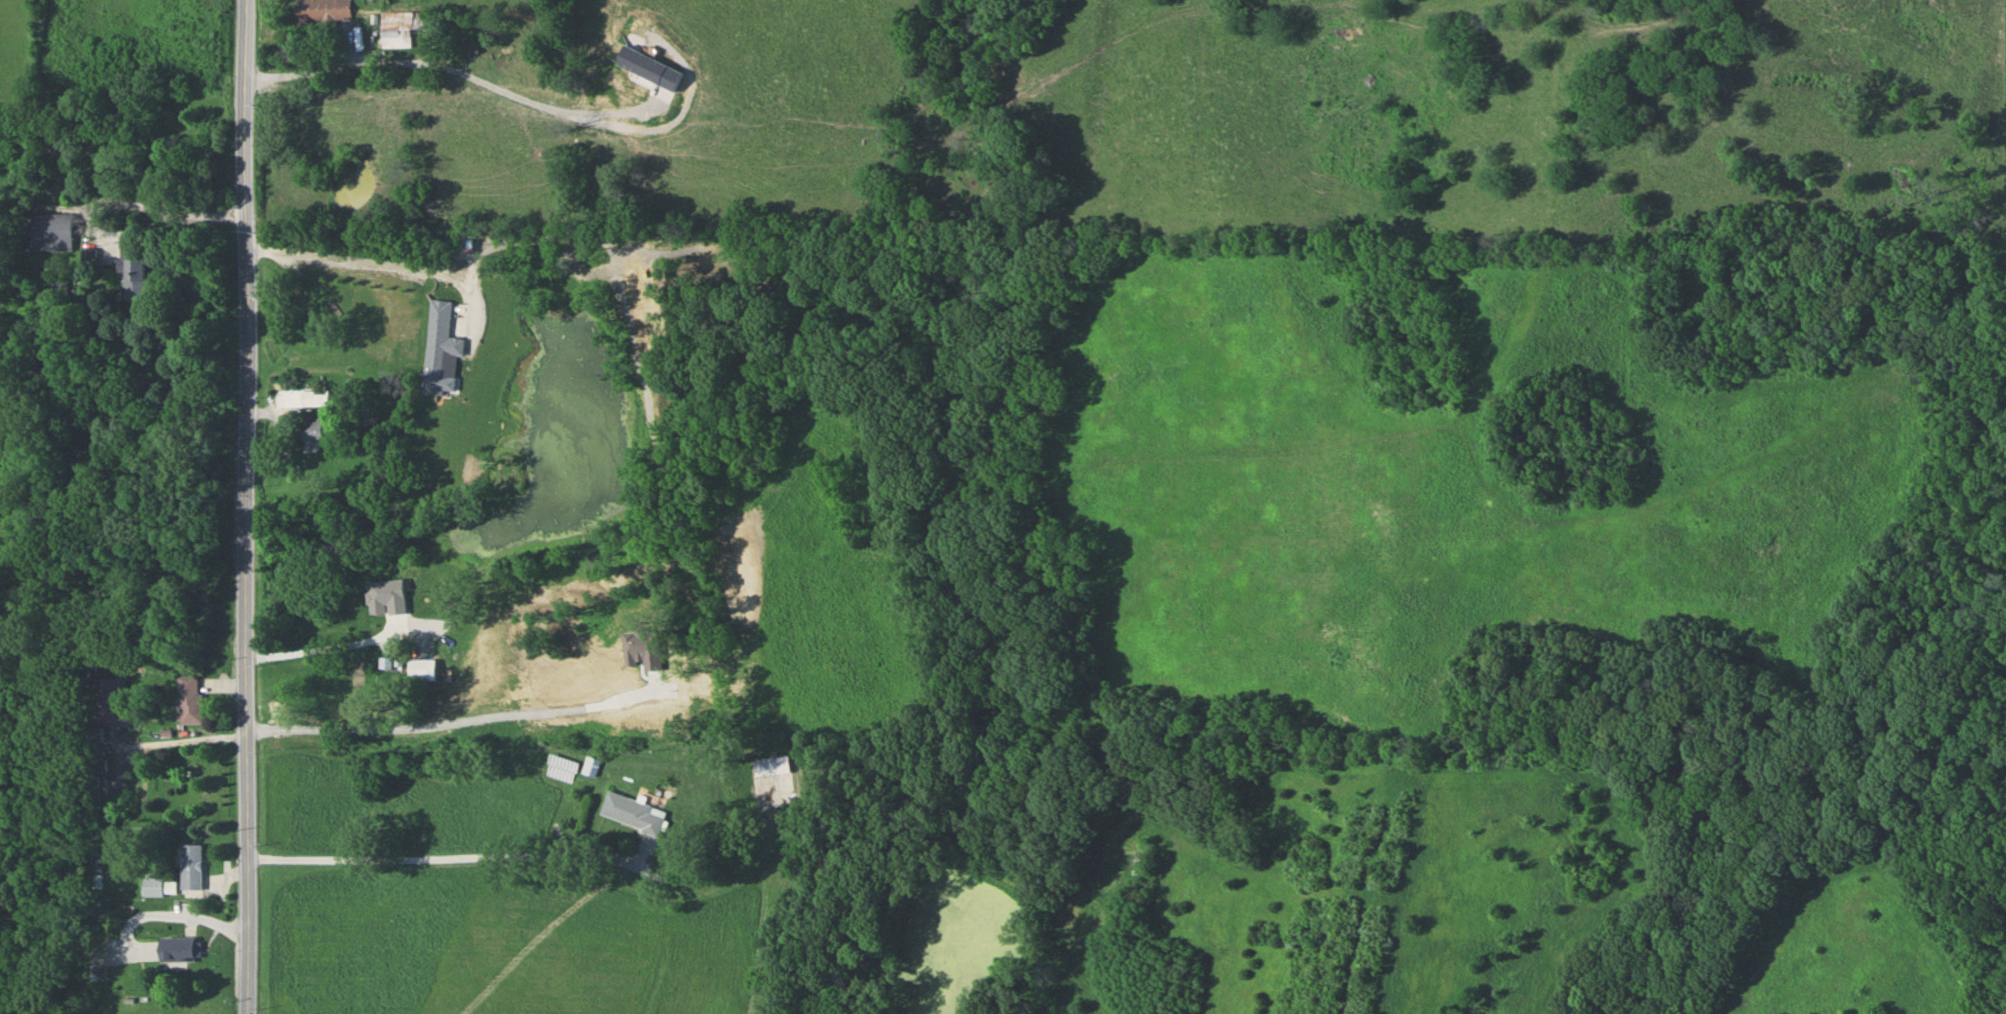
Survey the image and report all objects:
building: (320, 9)
building: (398, 26)
road: (315, 75)
road: (146, 213)
building: (49, 230)
building: (132, 271)
building: (311, 397)
building: (313, 433)
road: (248, 507)
building: (396, 605)
road: (329, 647)
building: (421, 668)
building: (190, 698)
building: (109, 699)
building: (95, 752)
building: (590, 766)
building: (633, 812)
road: (539, 856)
building: (188, 866)
building: (150, 885)
road: (167, 916)
building: (177, 948)

